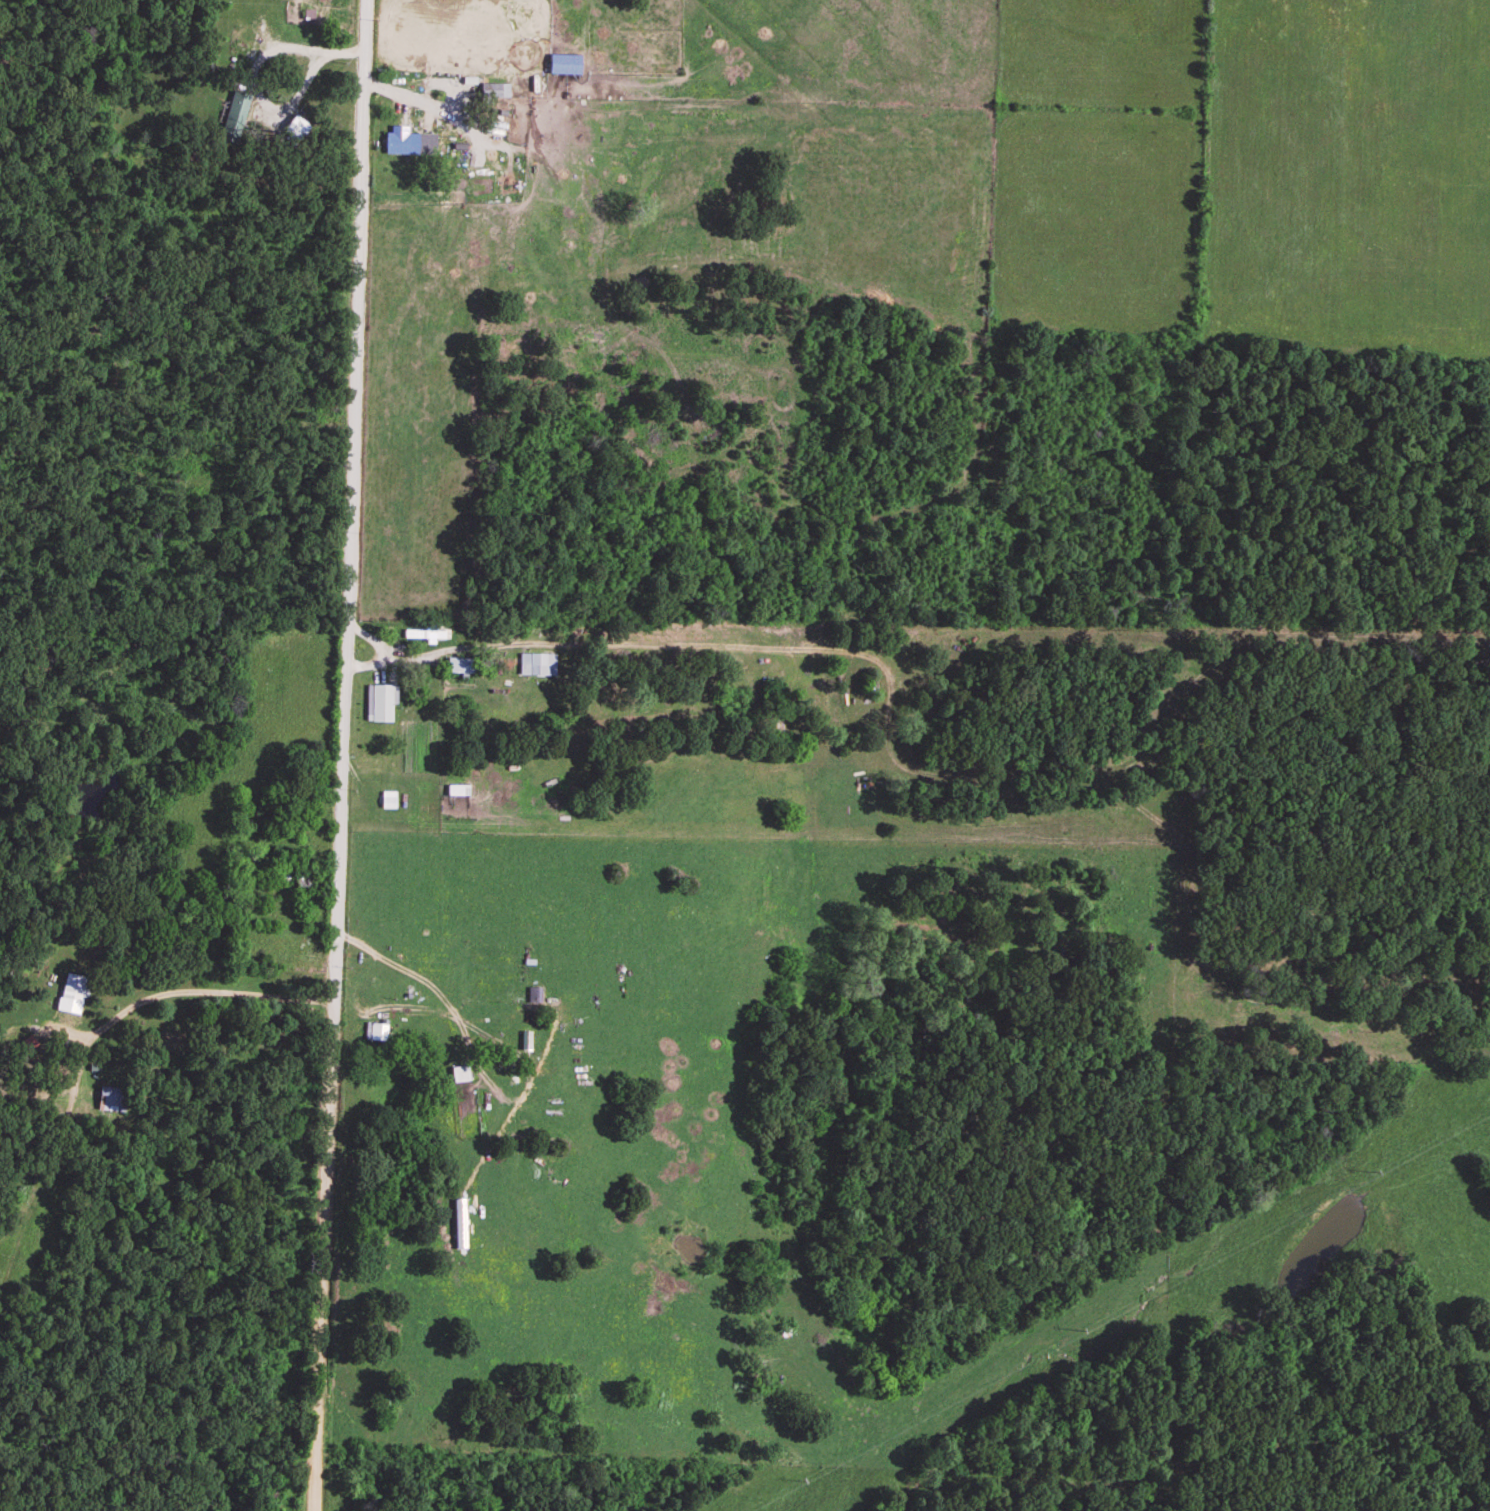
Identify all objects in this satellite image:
building: (571, 54)
road: (255, 62)
building: (233, 117)
building: (408, 143)
building: (536, 665)
building: (460, 666)
building: (382, 704)
road: (341, 755)
building: (73, 989)
road: (191, 991)
building: (533, 996)
building: (69, 1013)
building: (375, 1033)
building: (459, 1075)
building: (110, 1100)
power tower: (1373, 1172)
power tower: (1079, 1331)
power tower: (799, 1483)

